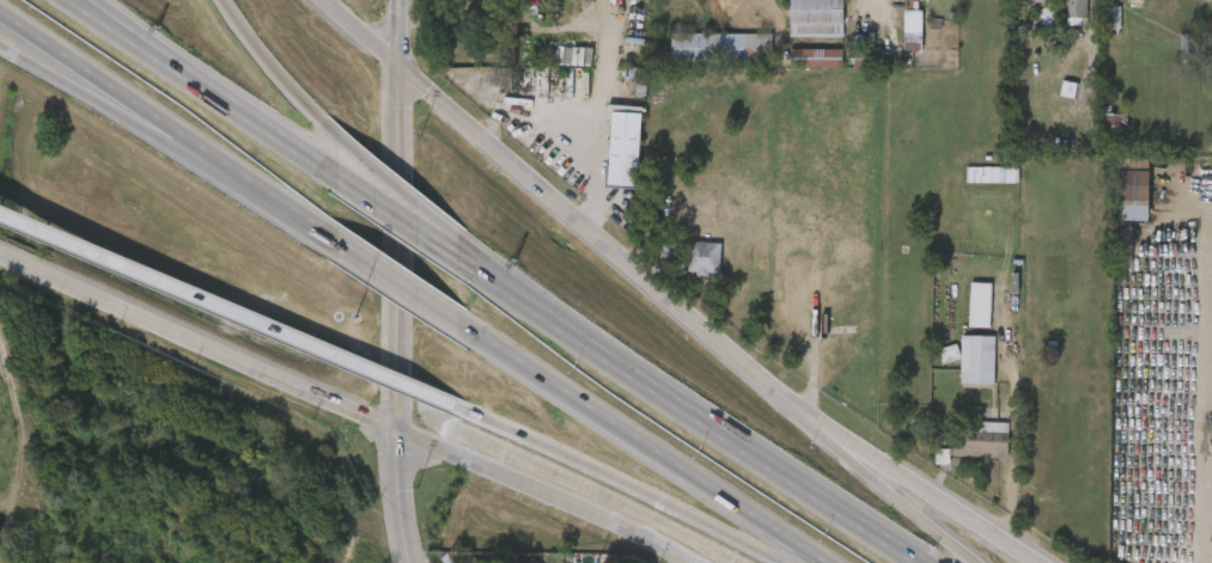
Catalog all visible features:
building: (913, 0)
building: (1033, 1)
building: (1018, 6)
building: (1076, 12)
building: (1059, 17)
building: (817, 18)
building: (910, 30)
building: (896, 39)
building: (721, 47)
building: (817, 57)
building: (870, 57)
road: (35, 66)
building: (799, 67)
road: (276, 72)
building: (639, 79)
road: (202, 91)
road: (127, 115)
building: (1113, 117)
building: (1097, 129)
road: (166, 131)
building: (629, 146)
building: (609, 159)
building: (994, 173)
building: (1133, 178)
building: (975, 184)
road: (1178, 196)
road: (400, 200)
road: (397, 213)
road: (400, 221)
building: (664, 245)
building: (1122, 246)
building: (647, 255)
building: (705, 257)
building: (688, 267)
road: (400, 280)
road: (662, 298)
building: (977, 307)
road: (229, 311)
building: (962, 314)
road: (197, 339)
building: (1211, 350)
building: (972, 356)
building: (932, 362)
road: (1195, 411)
road: (686, 412)
road: (1016, 435)
building: (972, 440)
road: (639, 441)
road: (867, 467)
road: (621, 481)
road: (543, 492)
road: (401, 495)
building: (89, 522)
road: (932, 528)
building: (37, 547)
building: (474, 561)
building: (534, 561)
building: (483, 562)
road: (973, 562)

